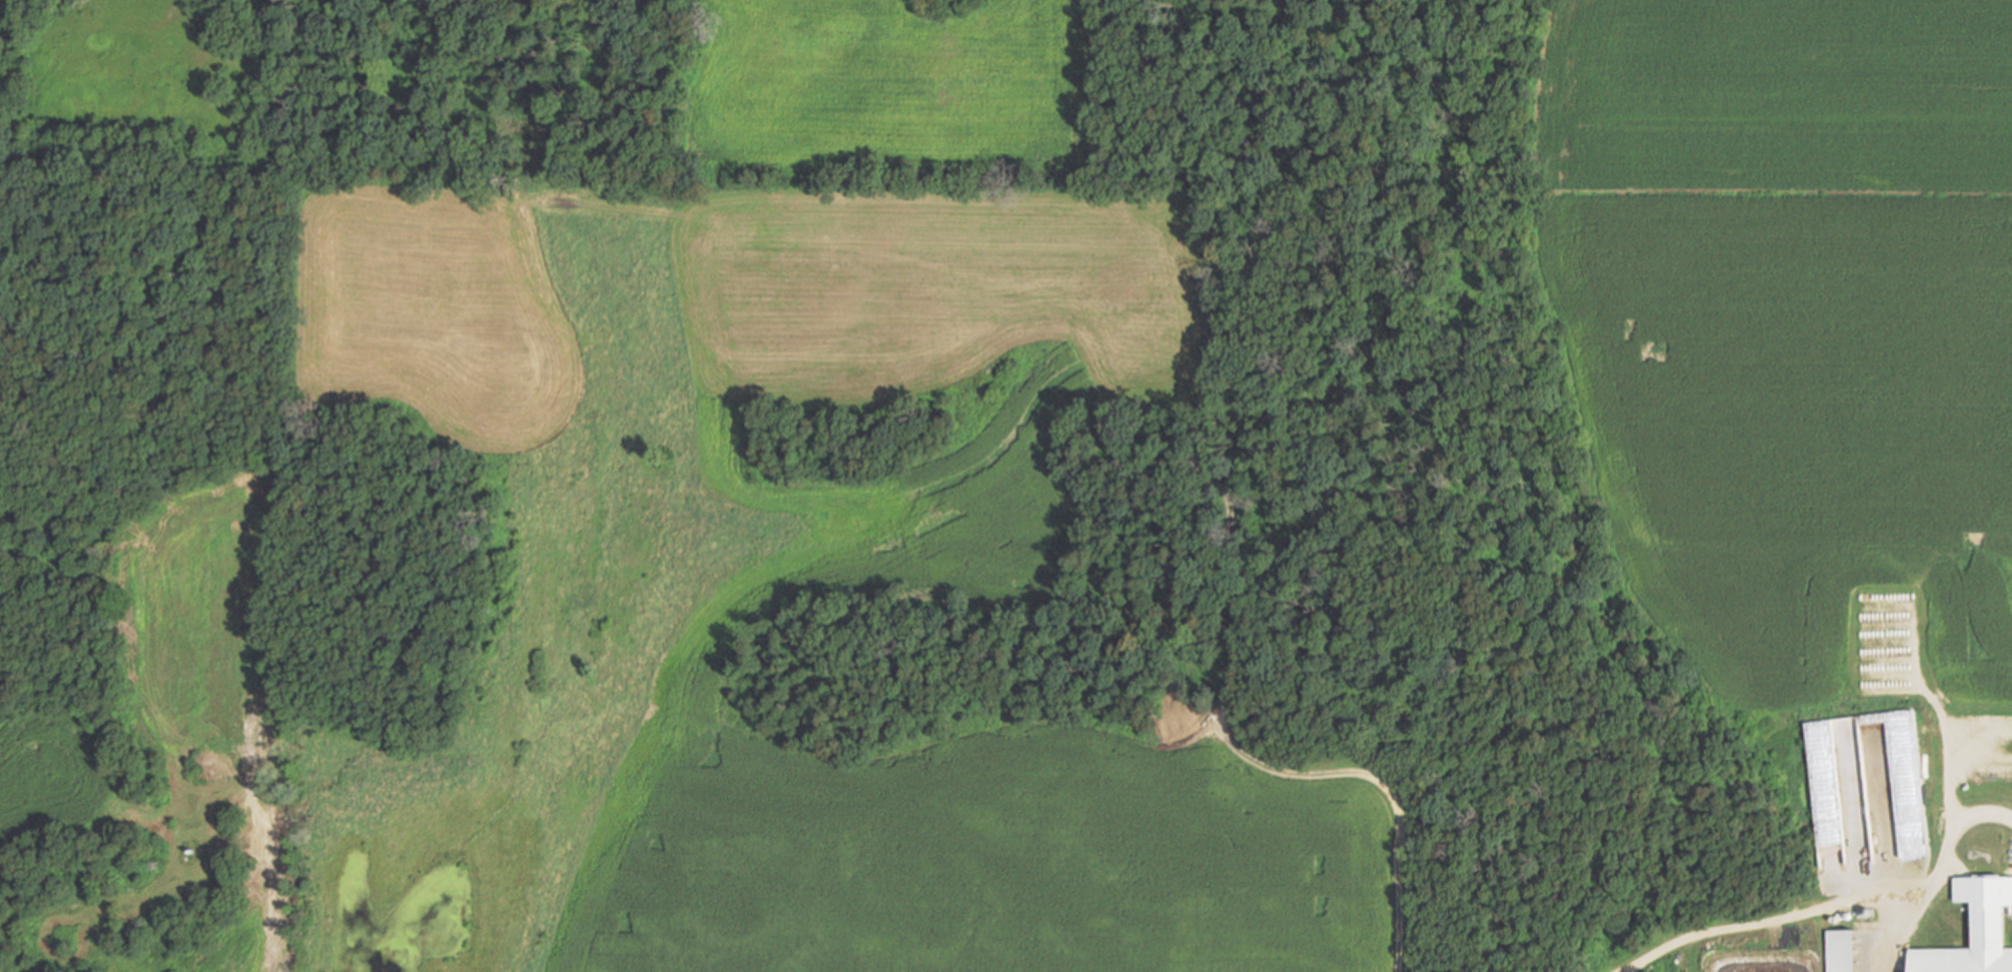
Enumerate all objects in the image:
building: (1877, 764)
building: (1974, 930)
building: (1843, 950)

